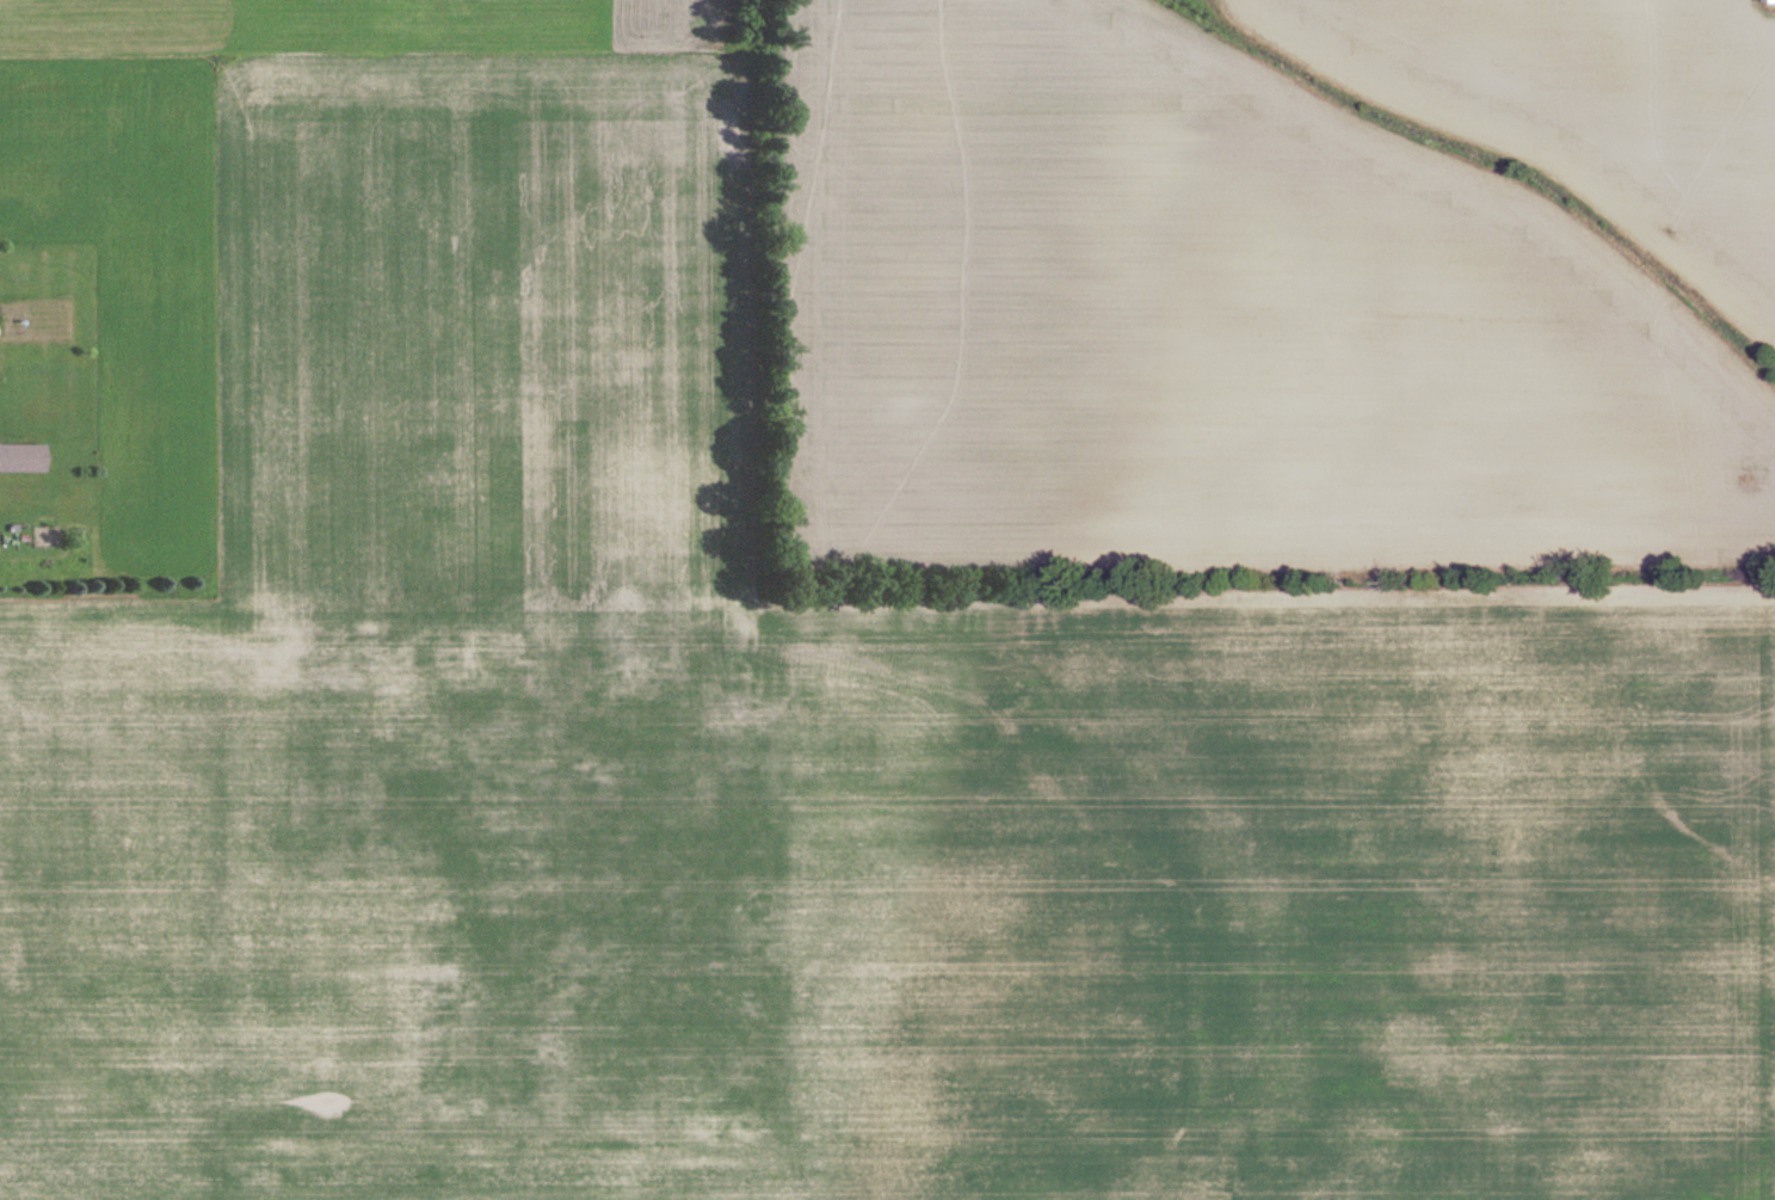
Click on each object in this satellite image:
building: (1773, 1)
building: (23, 459)

